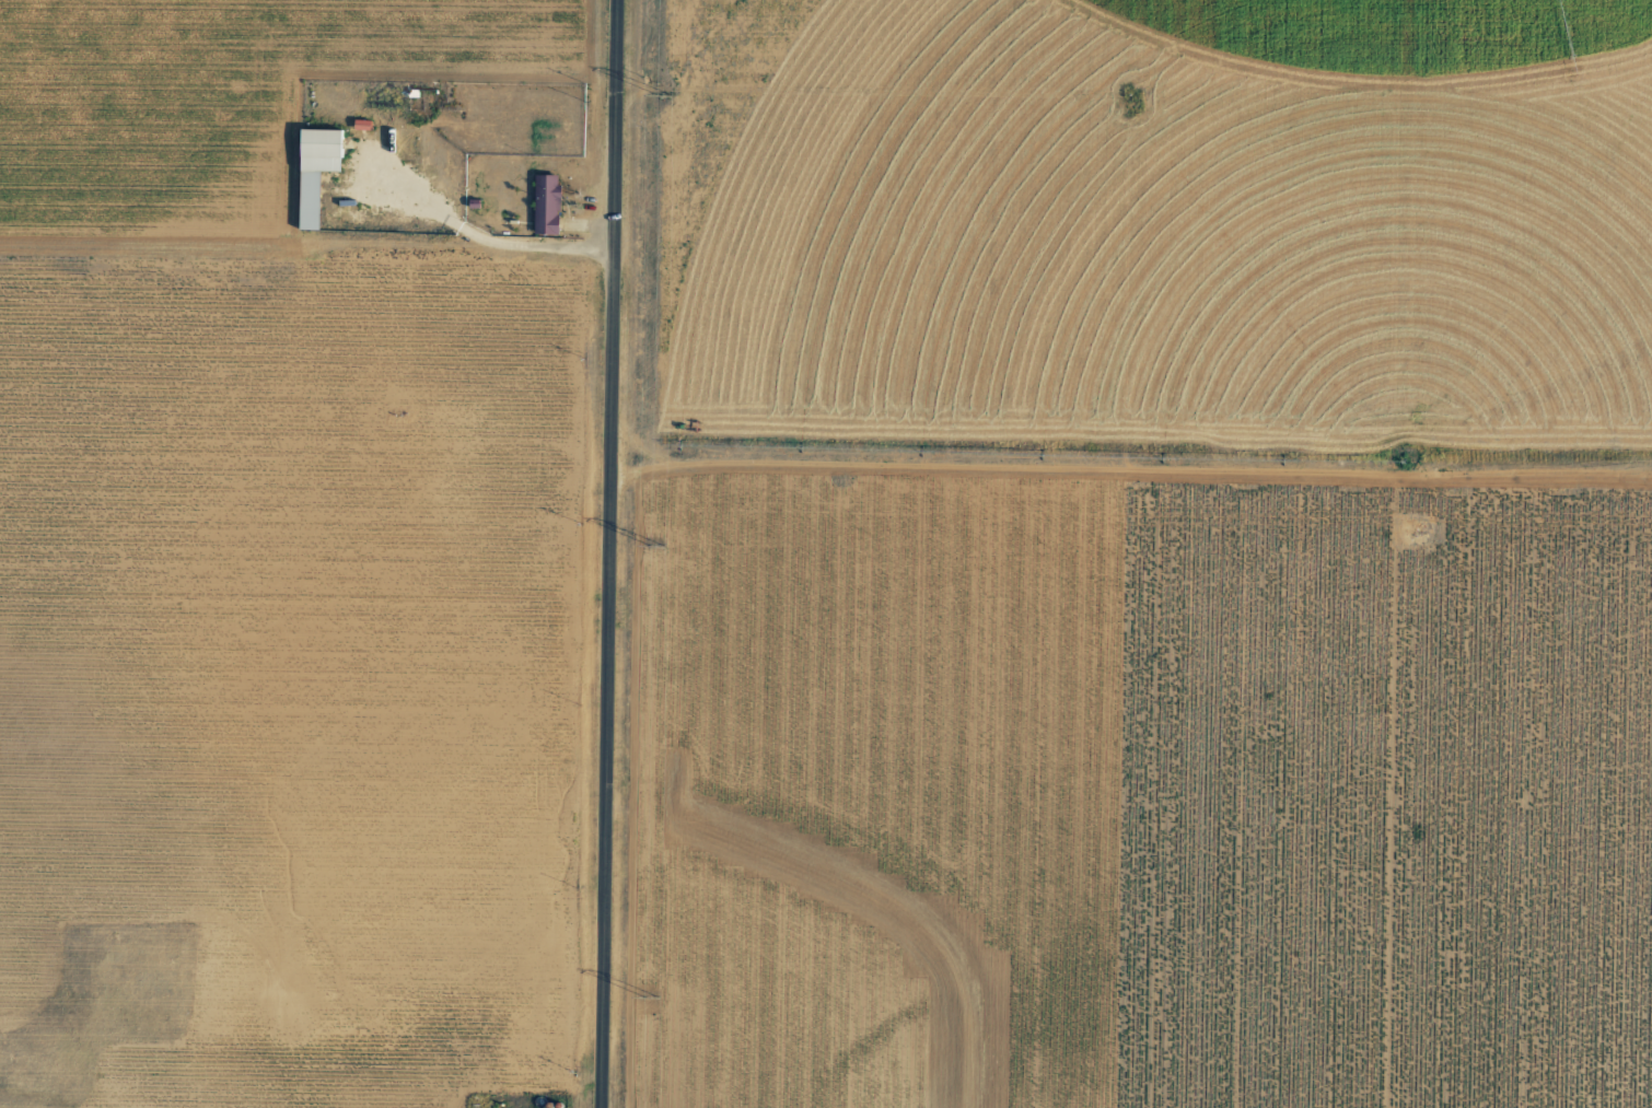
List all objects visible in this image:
power tower: (665, 93)
building: (547, 203)
road: (313, 250)
road: (1139, 467)
power tower: (658, 545)
road: (624, 553)
power tower: (654, 995)

